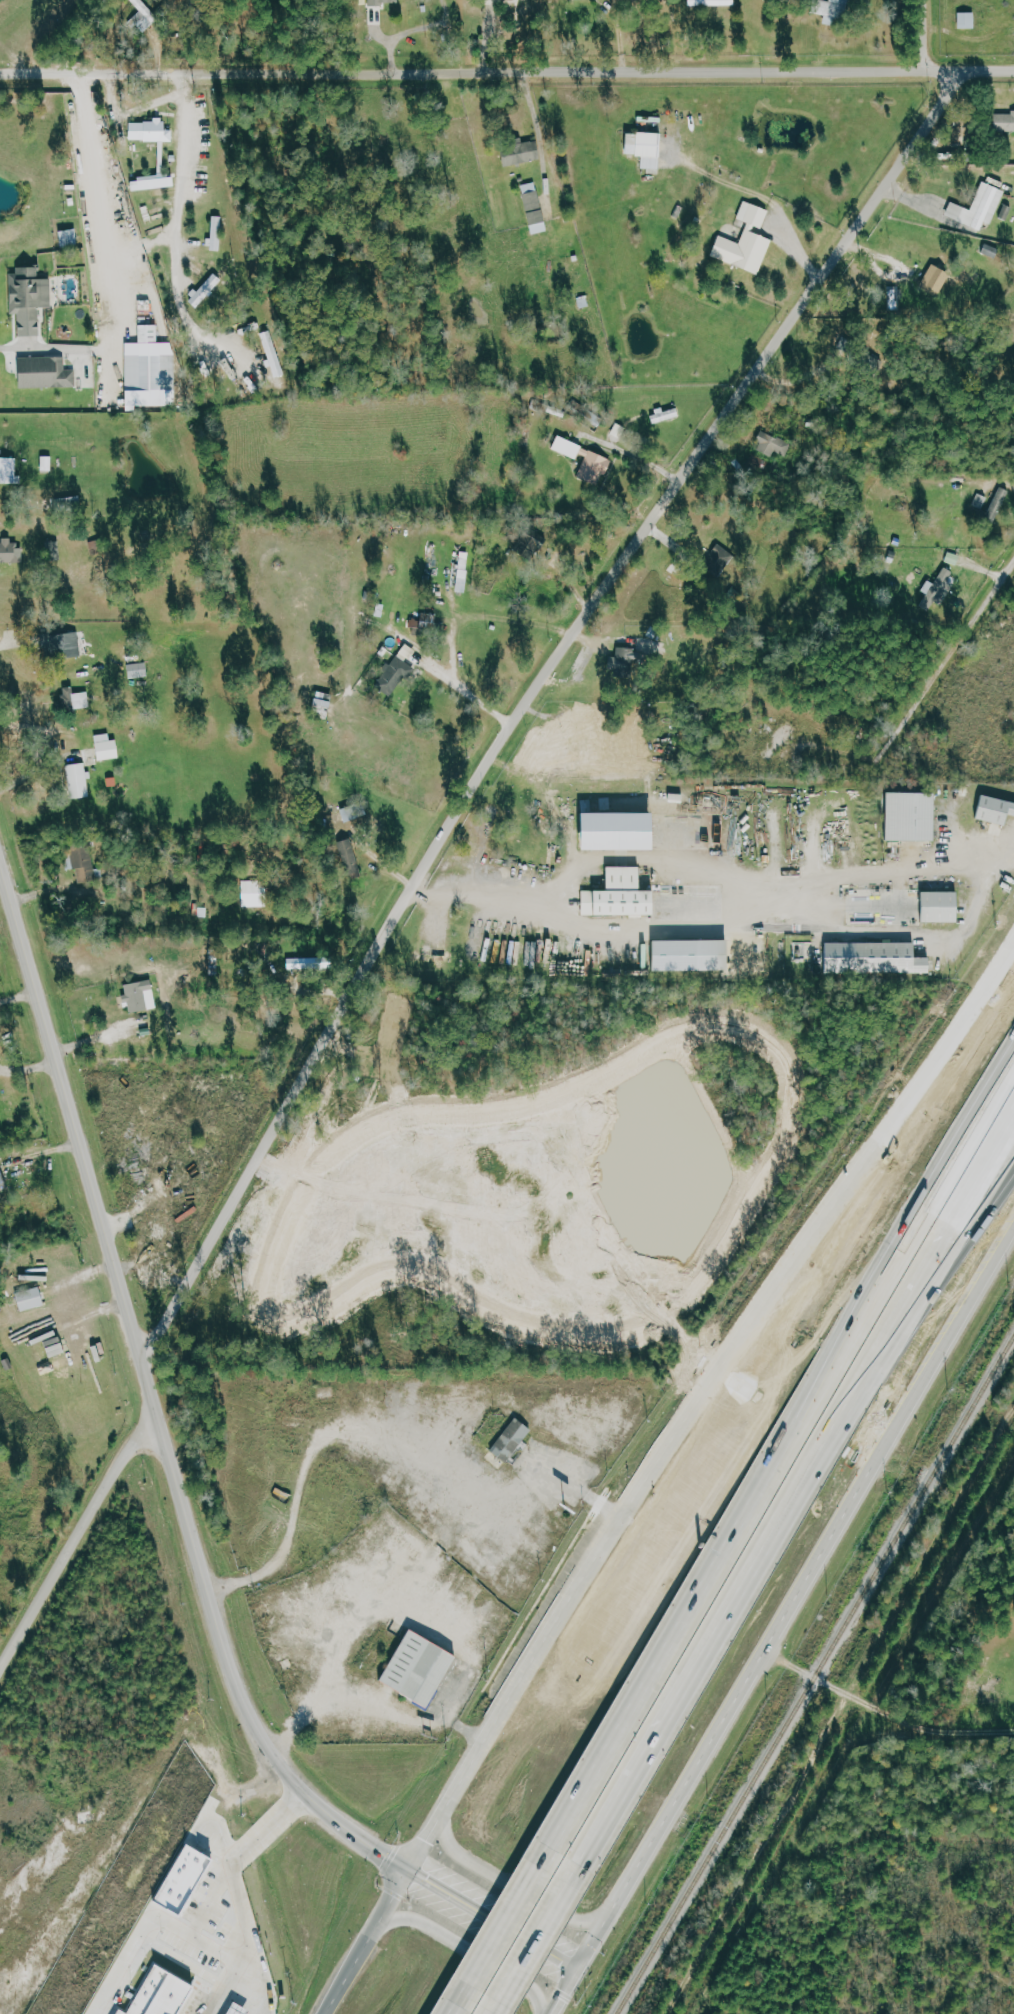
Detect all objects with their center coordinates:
building: (386, 2)
building: (711, 3)
building: (839, 12)
building: (969, 20)
road: (924, 37)
road: (686, 74)
road: (179, 75)
building: (1006, 122)
building: (649, 149)
building: (524, 154)
building: (164, 159)
road: (178, 190)
building: (536, 208)
building: (981, 208)
building: (219, 234)
building: (71, 238)
building: (749, 241)
road: (106, 271)
road: (887, 275)
building: (938, 279)
building: (207, 290)
building: (32, 300)
road: (184, 312)
building: (275, 354)
road: (759, 369)
building: (153, 371)
building: (48, 373)
building: (668, 415)
building: (774, 444)
building: (589, 461)
building: (9, 471)
building: (999, 503)
building: (55, 551)
building: (10, 552)
building: (959, 559)
building: (721, 560)
building: (465, 572)
building: (940, 589)
building: (431, 623)
road: (15, 641)
building: (67, 645)
building: (135, 658)
building: (626, 661)
road: (948, 662)
building: (140, 671)
building: (400, 671)
road: (467, 693)
building: (77, 700)
building: (326, 705)
building: (109, 748)
building: (80, 782)
building: (996, 810)
building: (352, 815)
building: (916, 817)
building: (626, 833)
building: (82, 863)
building: (257, 894)
building: (624, 896)
building: (945, 908)
road: (716, 928)
building: (691, 955)
building: (435, 956)
building: (877, 958)
building: (143, 995)
road: (343, 1009)
road: (969, 1010)
road: (967, 1146)
road: (986, 1196)
building: (33, 1299)
building: (58, 1348)
building: (510, 1439)
road: (182, 1491)
road: (78, 1537)
road: (609, 1538)
road: (730, 1548)
road: (764, 1565)
road: (797, 1602)
building: (419, 1669)
railway: (815, 1675)
road: (372, 1699)
road: (886, 1712)
traffic signals: (409, 1872)
building: (183, 1880)
road: (233, 1886)
road: (521, 1891)
road: (506, 1928)
road: (160, 1945)
road: (465, 1946)
road: (537, 1946)
traffic signals: (580, 1970)
road: (567, 1992)
building: (161, 1994)
road: (464, 2001)
building: (239, 2009)
gas station: (239, 2009)
road: (500, 2010)
building: (123, 2012)

